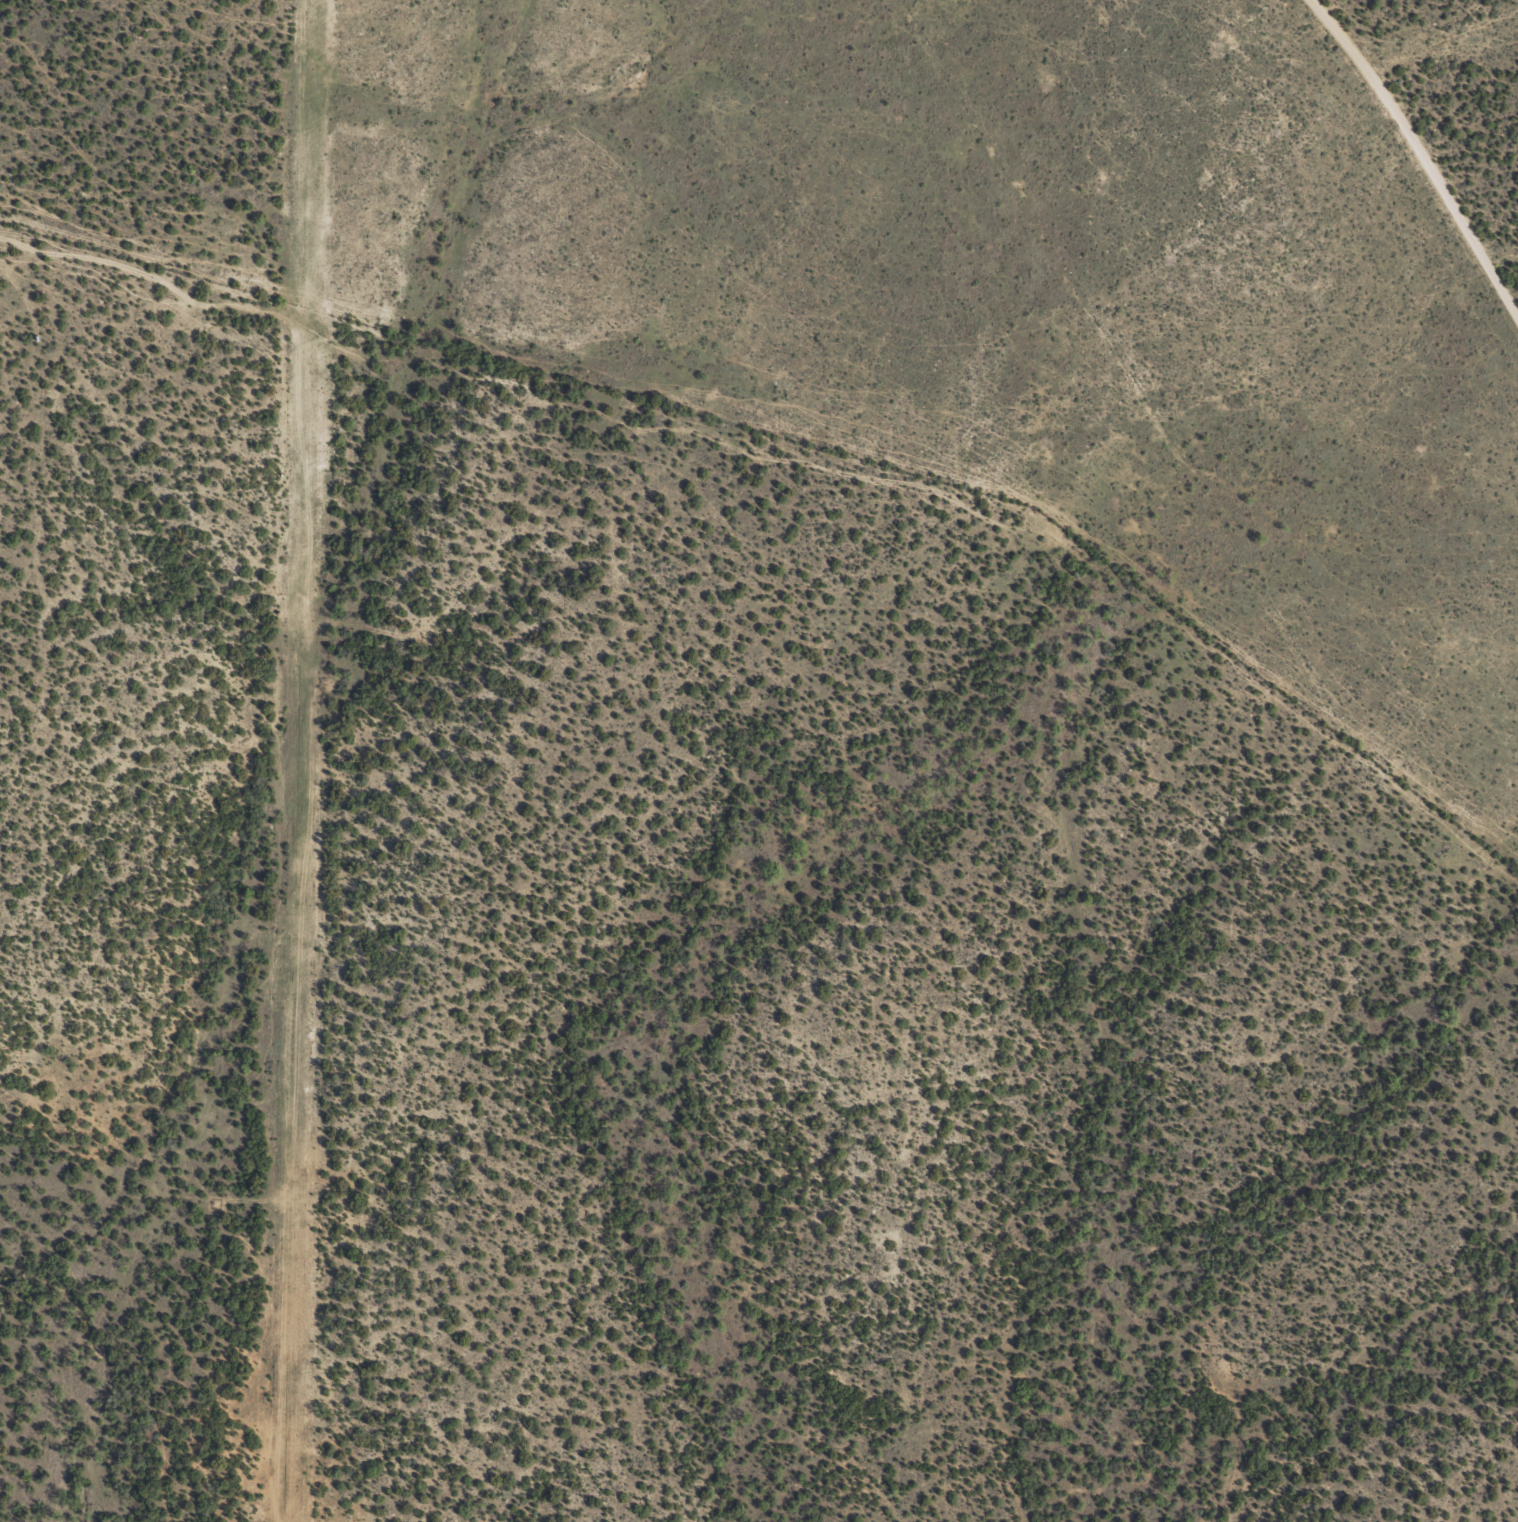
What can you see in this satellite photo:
road: (1419, 161)

